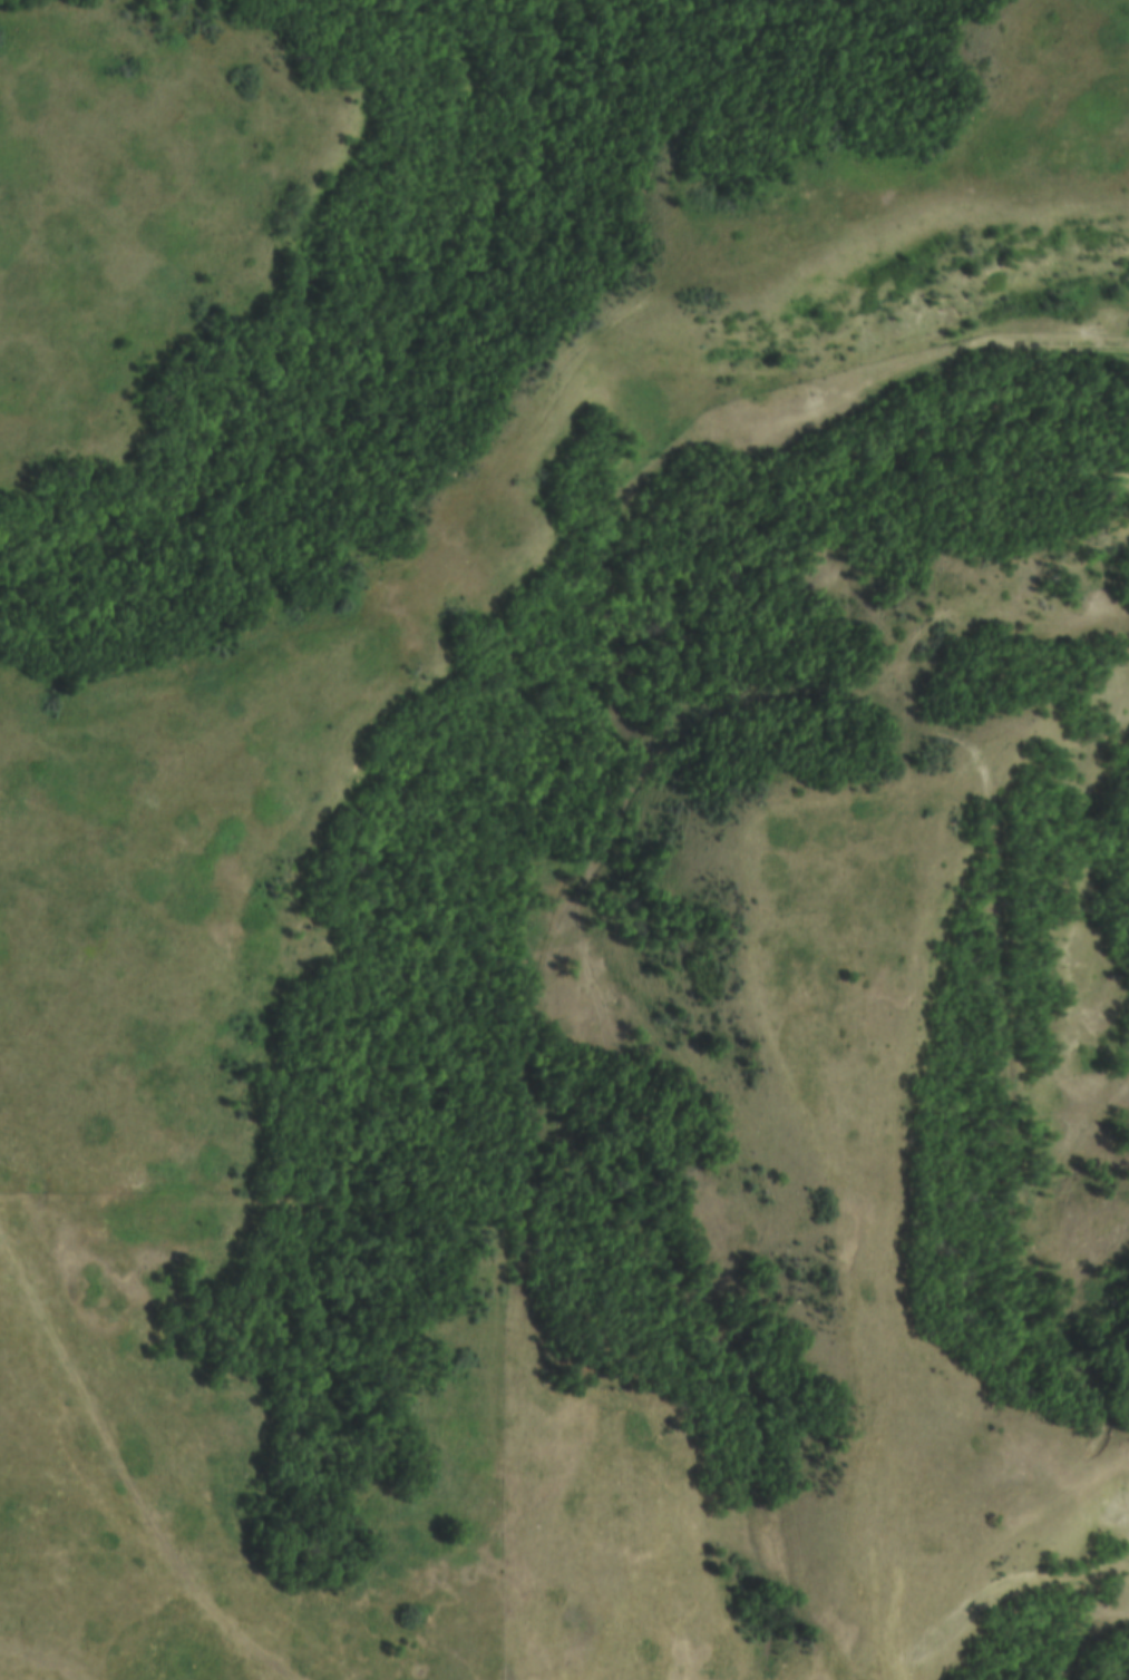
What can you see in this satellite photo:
road: (94, 1400)
road: (1000, 1593)

